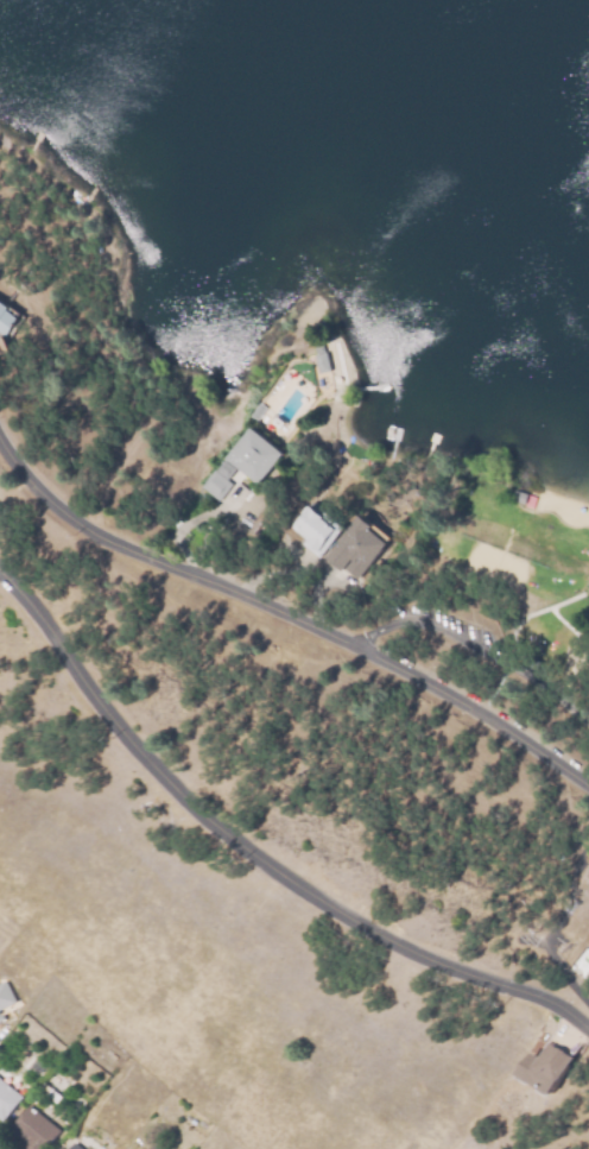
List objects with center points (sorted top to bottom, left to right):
building: (6, 320)
building: (1, 343)
building: (0, 351)
building: (243, 462)
building: (321, 528)
building: (356, 548)
road: (290, 617)
road: (252, 853)
building: (576, 916)
building: (6, 996)
building: (0, 1018)
building: (546, 1068)
building: (7, 1099)
building: (30, 1131)
building: (72, 1147)
building: (59, 1148)

